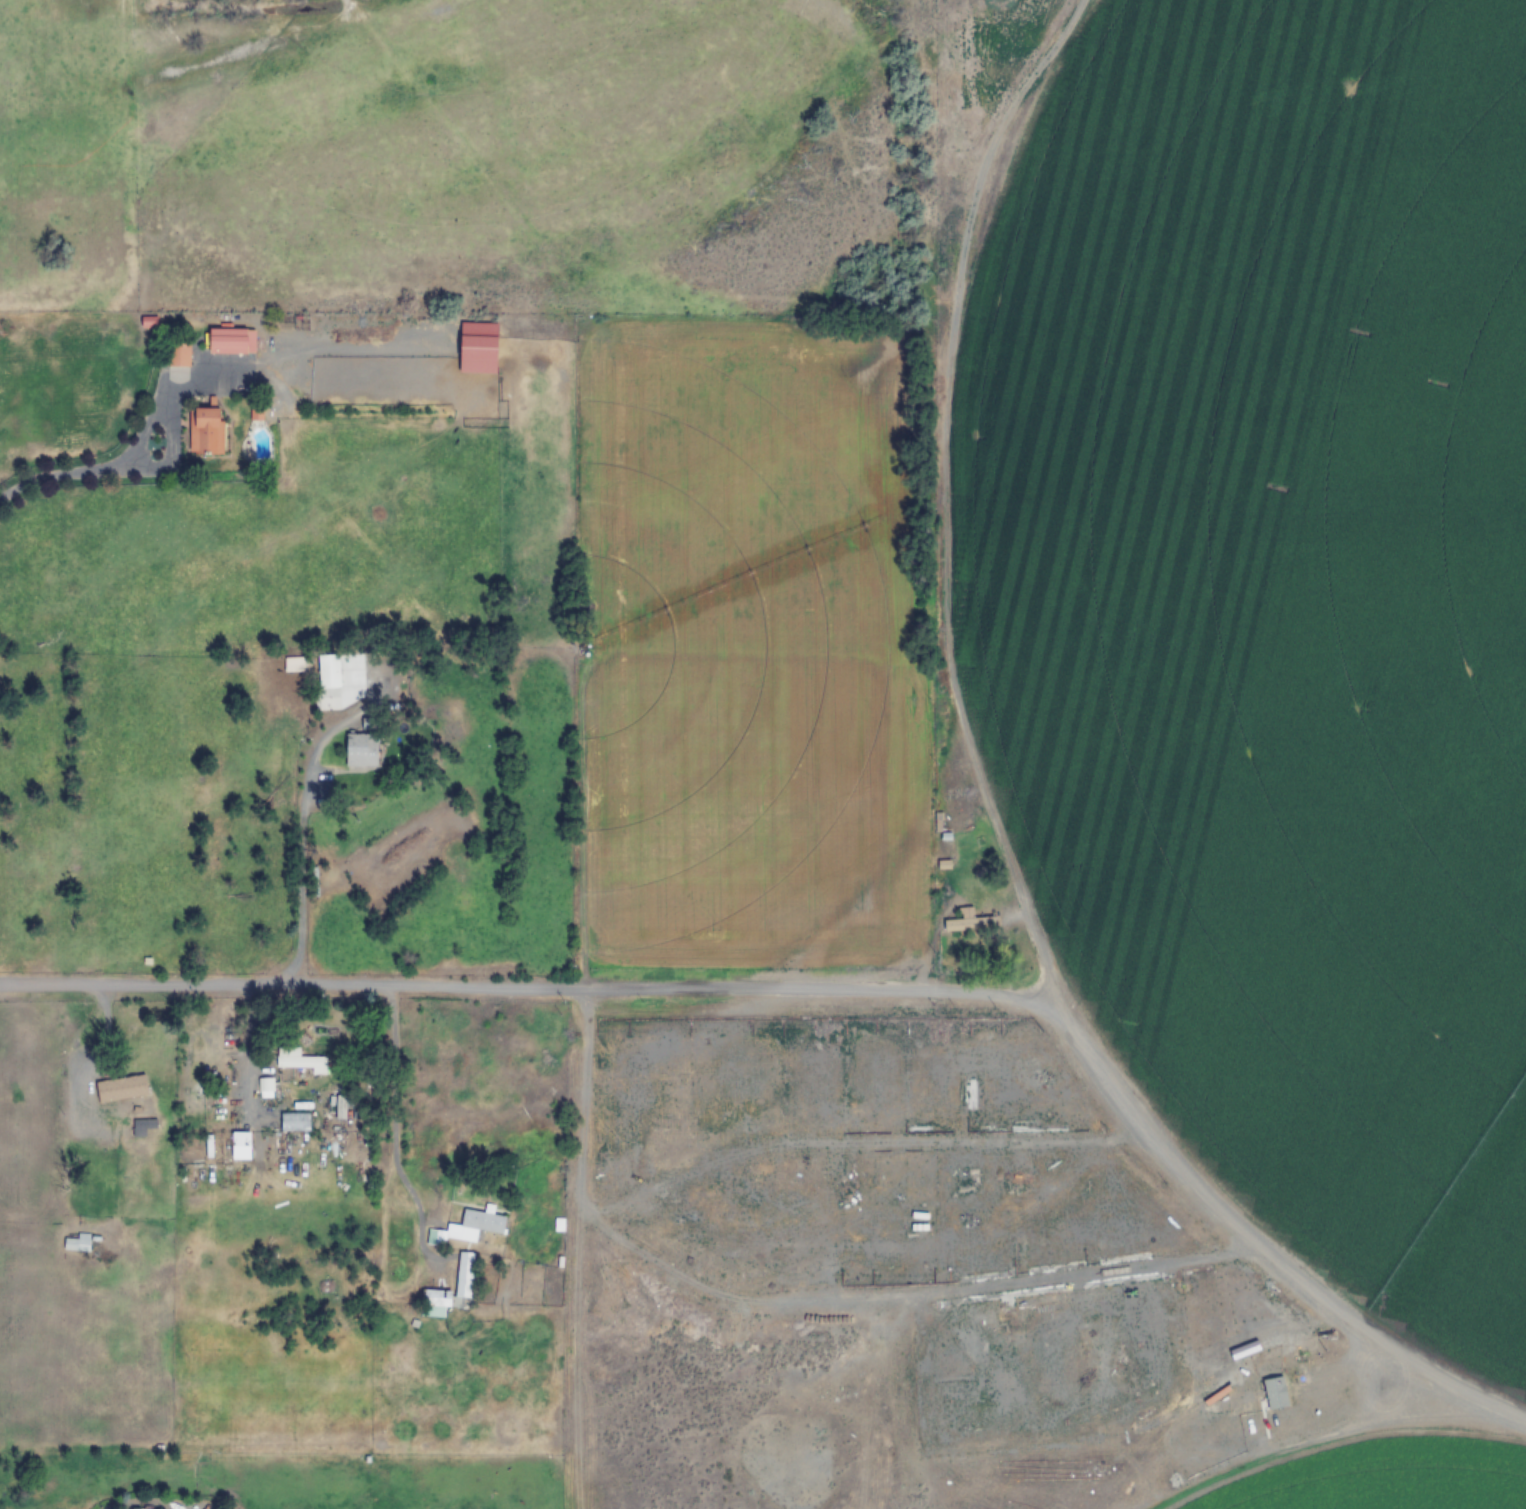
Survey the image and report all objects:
building: (228, 340)
building: (477, 347)
building: (177, 353)
building: (204, 430)
building: (4, 500)
crop: (1276, 611)
building: (295, 665)
building: (328, 673)
building: (361, 751)
building: (939, 833)
crop: (406, 845)
building: (966, 921)
road: (512, 990)
building: (303, 1066)
building: (261, 1087)
building: (121, 1088)
building: (272, 1106)
building: (473, 1225)
building: (432, 1236)
road: (1250, 1237)
building: (75, 1243)
building: (463, 1274)
building: (434, 1301)
building: (1274, 1393)

